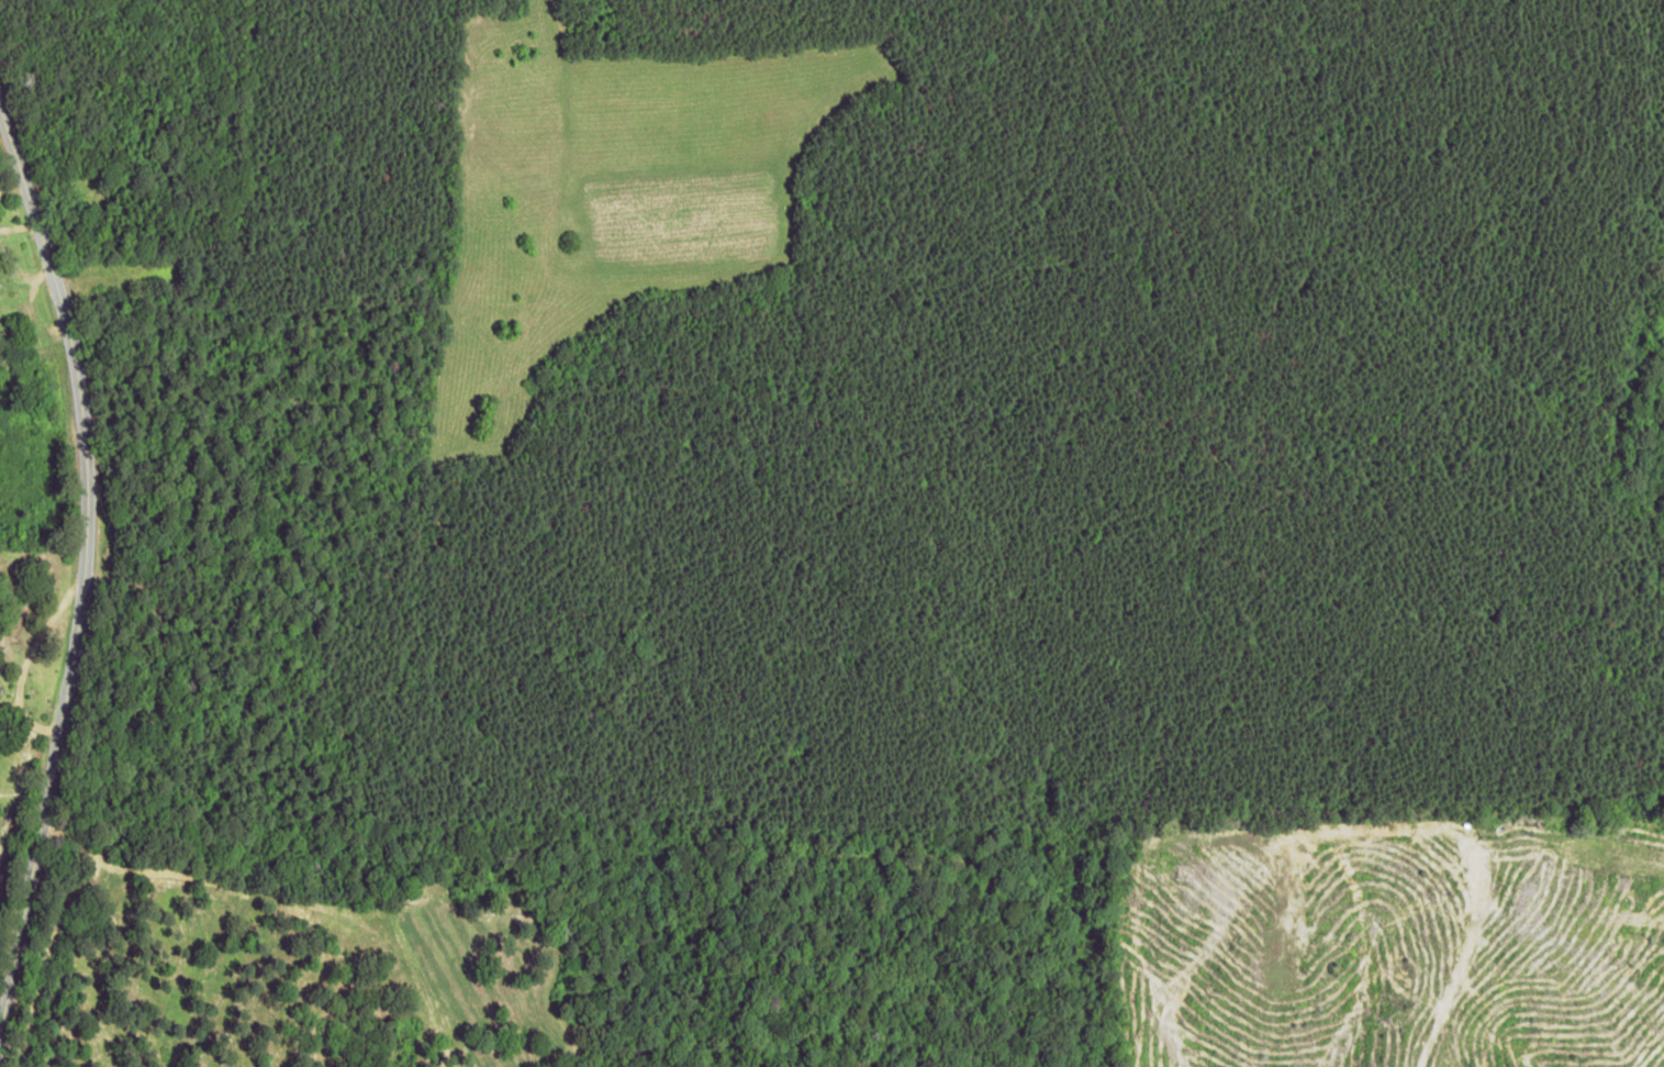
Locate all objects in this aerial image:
road: (27, 230)
road: (103, 554)
building: (0, 683)

